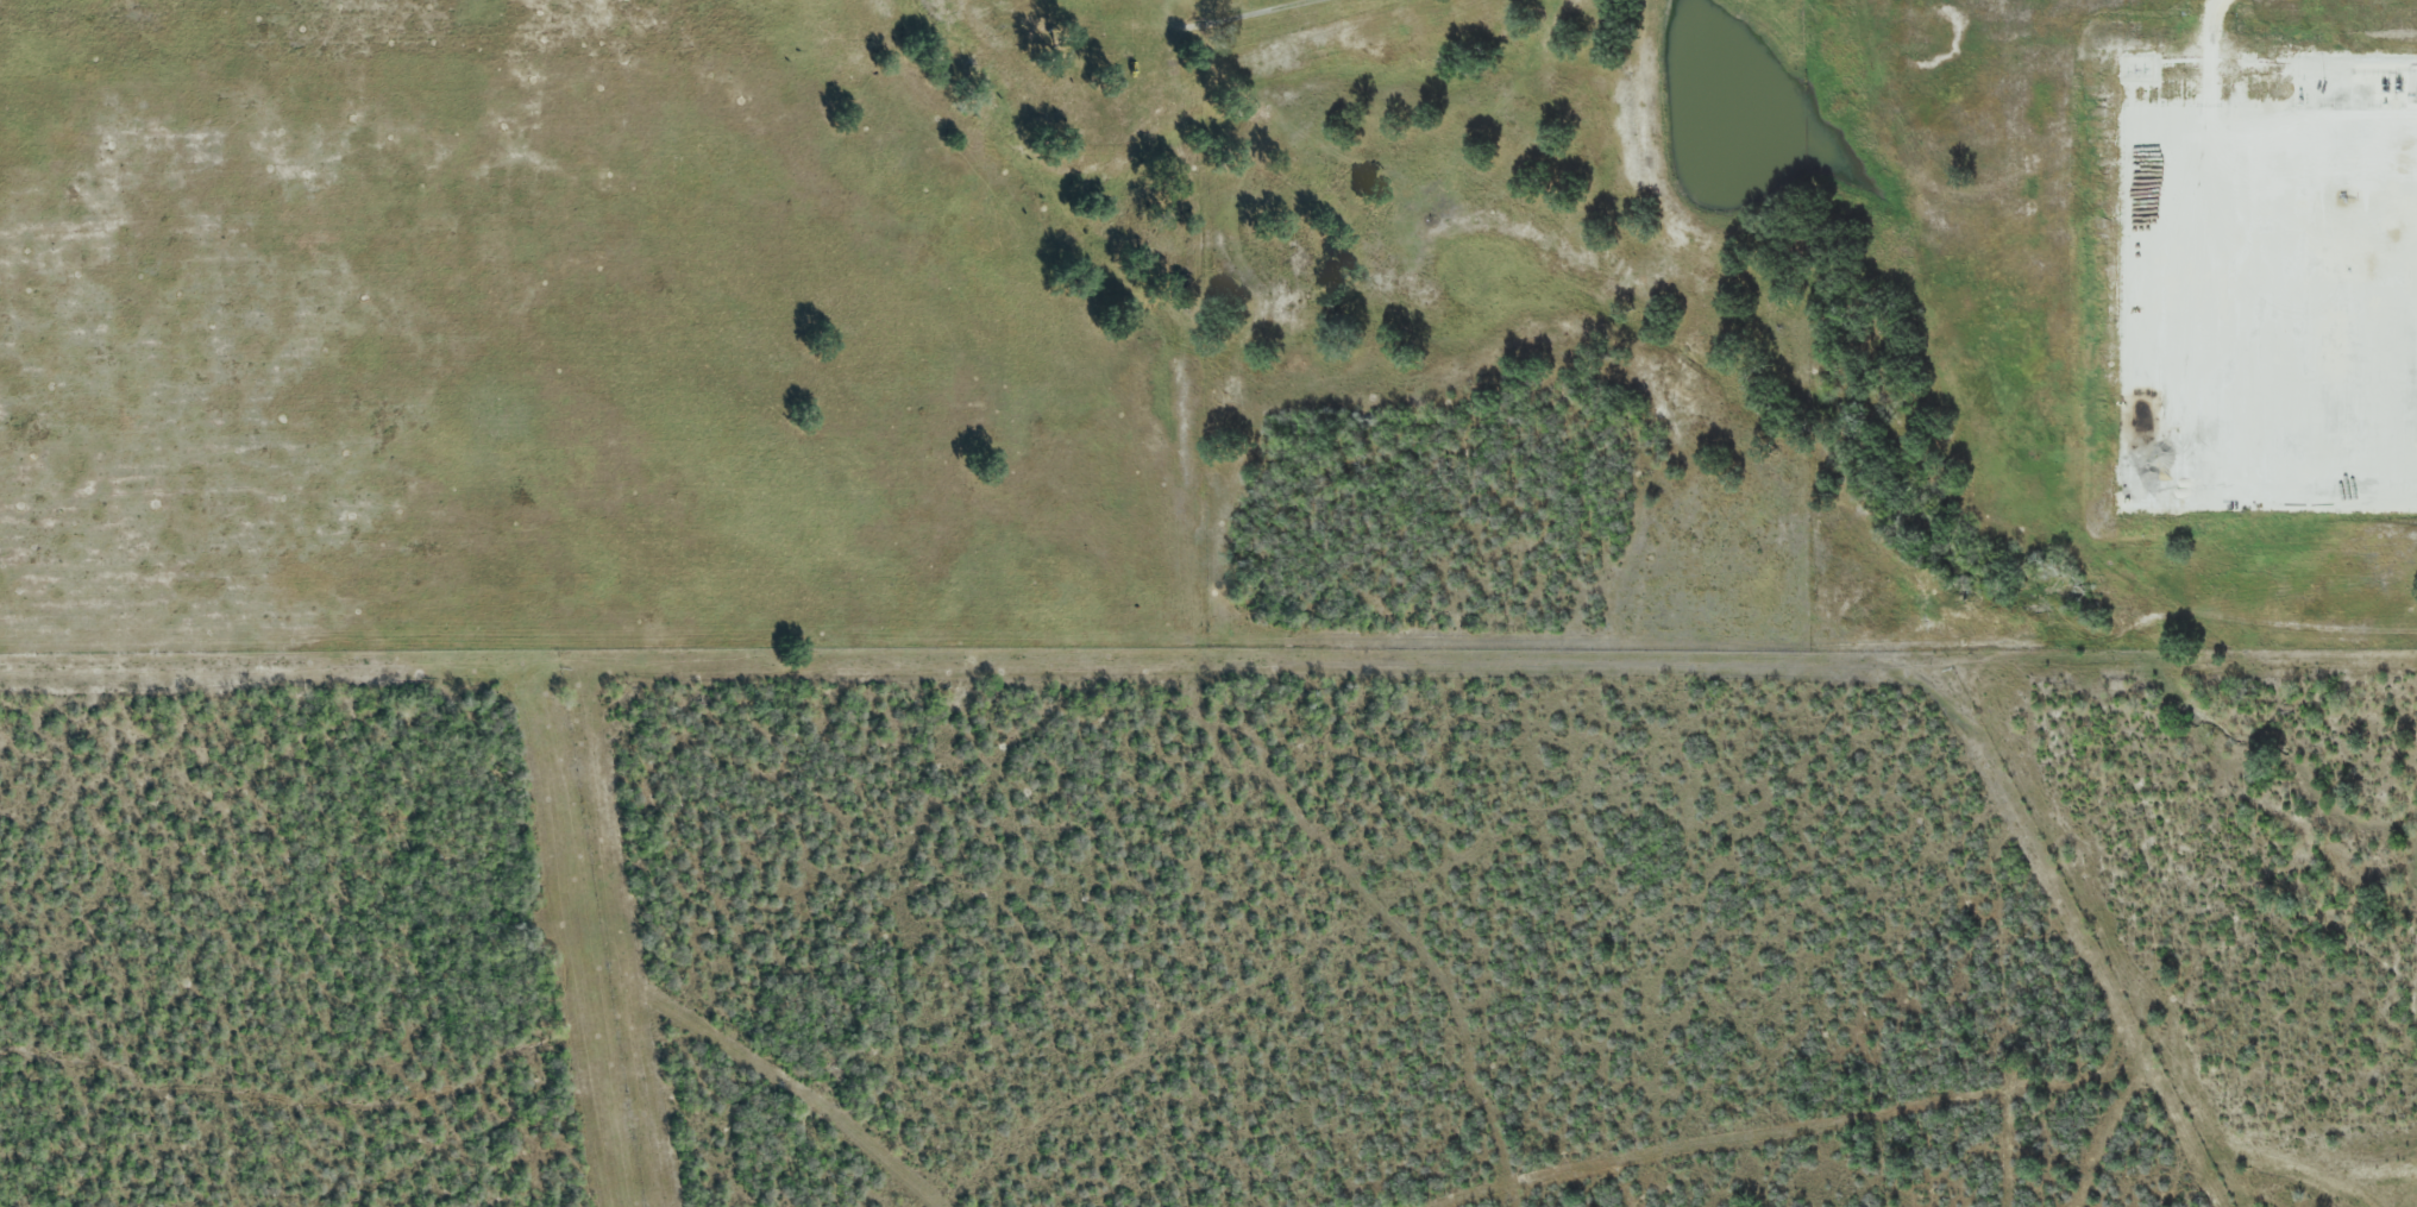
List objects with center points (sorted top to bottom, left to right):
road: (2218, 20)

